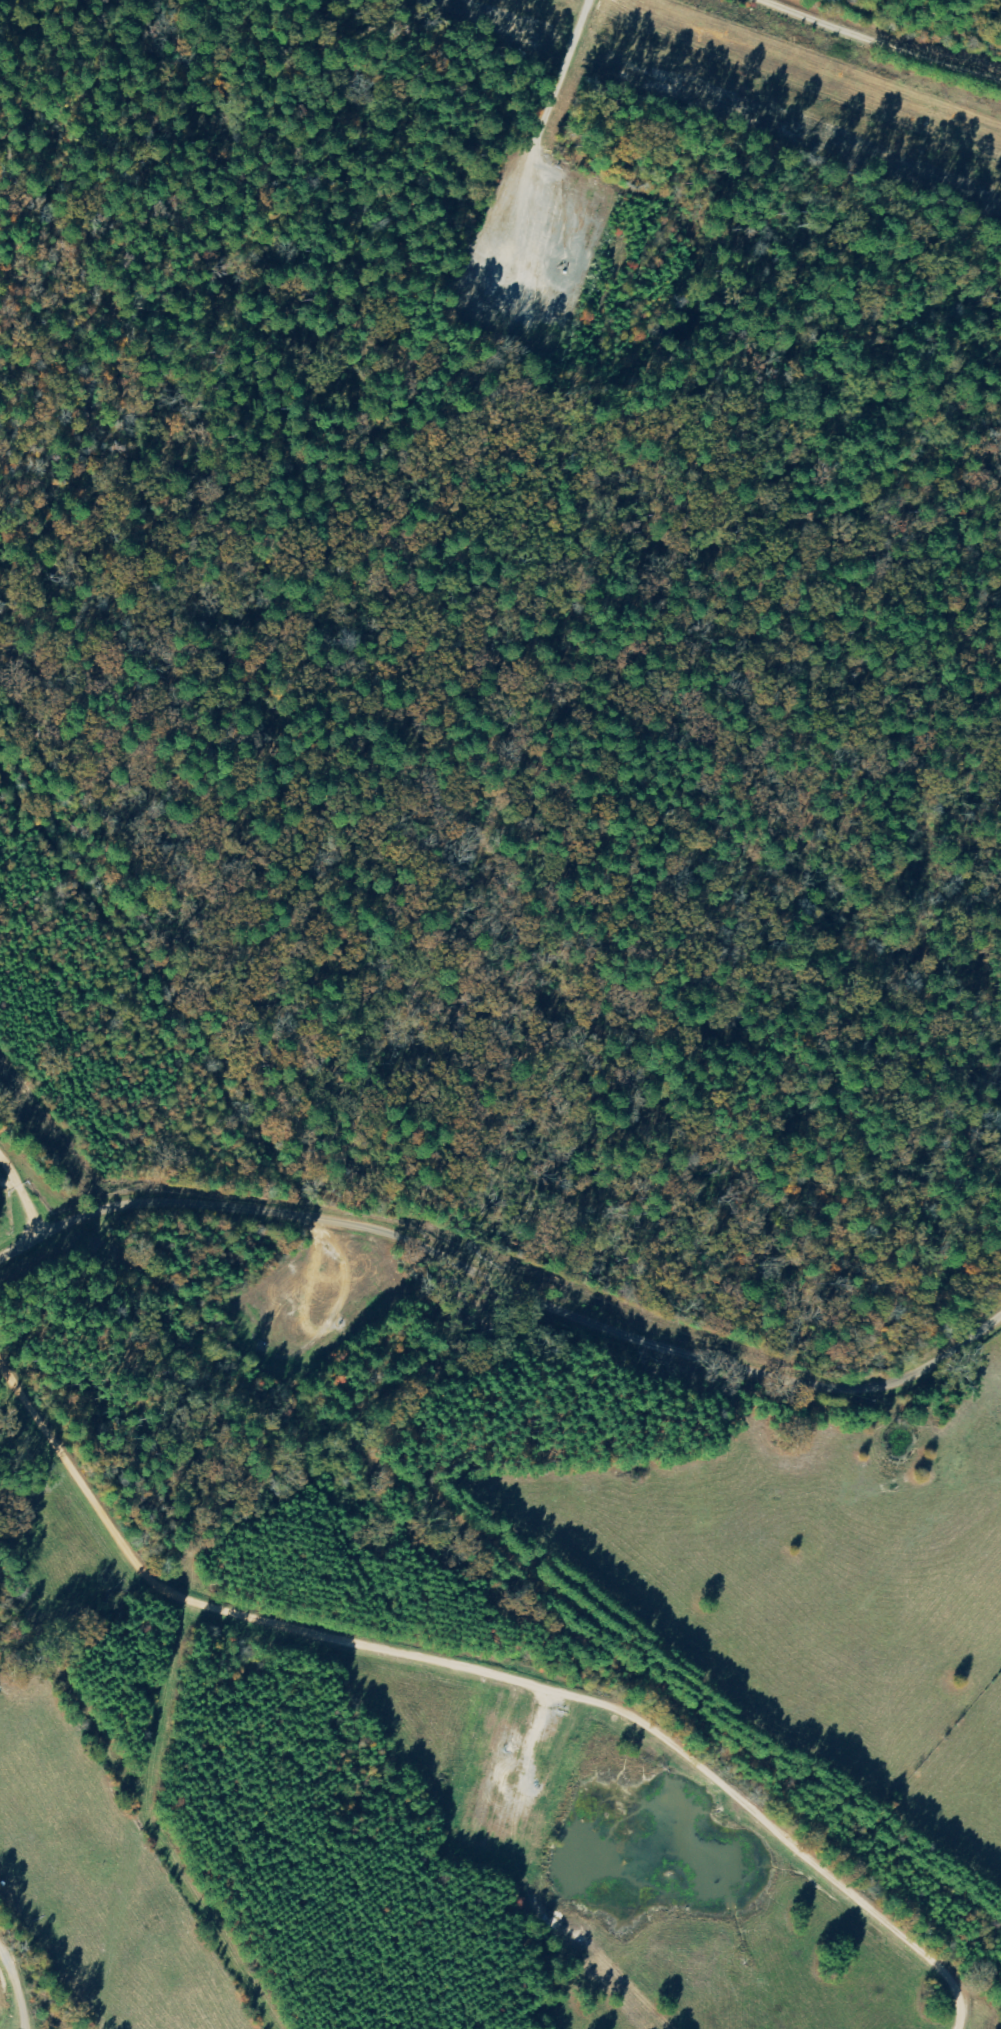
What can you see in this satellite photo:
road: (504, 1258)

